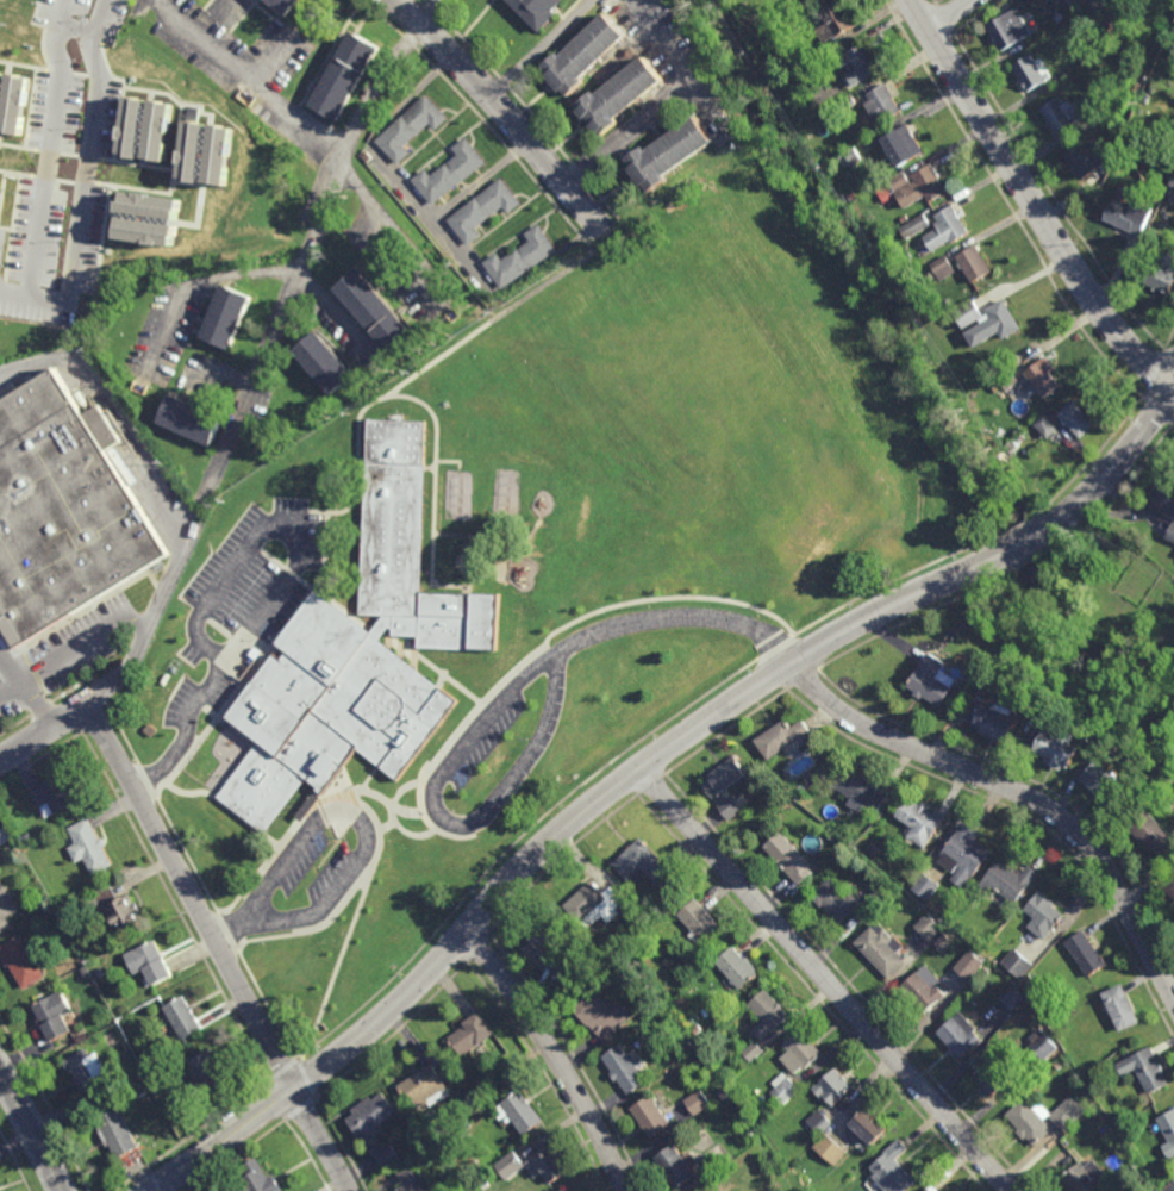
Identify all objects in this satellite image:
road: (936, 1)
road: (939, 1)
building: (1072, 1)
building: (285, 5)
road: (64, 10)
building: (535, 11)
road: (430, 12)
road: (918, 13)
road: (950, 13)
road: (976, 17)
building: (1113, 17)
road: (944, 19)
building: (833, 27)
building: (1011, 31)
road: (664, 40)
road: (936, 44)
building: (1112, 48)
road: (539, 49)
building: (582, 54)
road: (274, 57)
building: (861, 67)
building: (1032, 74)
building: (344, 76)
building: (1136, 86)
building: (618, 95)
building: (851, 101)
building: (14, 102)
building: (883, 104)
building: (1091, 110)
road: (501, 112)
building: (1062, 116)
road: (643, 121)
road: (302, 125)
building: (136, 127)
building: (410, 127)
building: (162, 131)
road: (55, 137)
building: (195, 145)
building: (905, 145)
building: (667, 154)
building: (221, 155)
building: (853, 156)
building: (1122, 157)
building: (1086, 161)
building: (448, 173)
road: (87, 186)
building: (920, 188)
building: (1170, 188)
building: (883, 193)
road: (1051, 197)
road: (1007, 204)
road: (1032, 204)
building: (151, 205)
building: (481, 210)
building: (856, 210)
road: (375, 212)
building: (1130, 217)
building: (914, 226)
building: (948, 229)
building: (148, 231)
building: (519, 258)
building: (880, 260)
building: (974, 266)
building: (943, 268)
building: (1162, 275)
road: (202, 283)
building: (373, 312)
building: (226, 319)
building: (988, 322)
road: (277, 324)
road: (1169, 338)
road: (1169, 356)
building: (323, 364)
road: (431, 366)
road: (1154, 373)
building: (1043, 378)
building: (1008, 379)
road: (1157, 411)
building: (1078, 418)
road: (1173, 420)
building: (189, 423)
road: (1173, 424)
building: (1045, 428)
road: (1088, 461)
road: (1117, 466)
road: (436, 490)
road: (175, 497)
road: (192, 499)
building: (1164, 499)
building: (64, 516)
road: (1019, 529)
building: (1170, 535)
road: (1028, 543)
road: (220, 576)
road: (82, 644)
building: (350, 644)
building: (221, 649)
road: (229, 656)
building: (974, 673)
building: (931, 681)
road: (10, 690)
road: (25, 693)
building: (173, 697)
road: (491, 713)
building: (997, 723)
road: (44, 737)
building: (783, 738)
building: (1061, 749)
road: (622, 754)
road: (623, 779)
building: (725, 779)
building: (1104, 782)
building: (801, 788)
building: (862, 792)
road: (1019, 792)
building: (58, 794)
building: (1173, 798)
road: (354, 813)
building: (920, 822)
building: (1156, 834)
building: (836, 837)
building: (26, 838)
building: (88, 847)
building: (872, 848)
building: (967, 854)
building: (791, 859)
building: (643, 865)
building: (1172, 875)
building: (1008, 883)
building: (922, 885)
building: (1170, 890)
road: (192, 898)
building: (873, 898)
building: (836, 902)
building: (586, 903)
building: (6, 909)
building: (123, 913)
building: (1043, 916)
building: (700, 922)
building: (951, 924)
building: (925, 925)
building: (938, 939)
building: (547, 941)
building: (880, 950)
building: (1086, 954)
building: (670, 960)
building: (21, 961)
building: (149, 962)
building: (968, 964)
building: (1016, 964)
building: (739, 969)
building: (85, 972)
building: (99, 973)
road: (824, 979)
building: (1026, 979)
building: (923, 990)
building: (1010, 997)
building: (1122, 1009)
building: (769, 1015)
building: (55, 1016)
building: (182, 1017)
building: (601, 1017)
building: (1068, 1028)
building: (695, 1030)
building: (470, 1035)
building: (961, 1036)
building: (686, 1043)
building: (1042, 1046)
building: (751, 1052)
building: (798, 1053)
road: (554, 1055)
building: (1056, 1065)
road: (282, 1070)
building: (627, 1070)
building: (1145, 1071)
building: (88, 1072)
building: (206, 1072)
building: (995, 1074)
building: (152, 1078)
road: (306, 1078)
building: (833, 1087)
building: (782, 1089)
building: (426, 1090)
building: (140, 1091)
building: (723, 1093)
building: (697, 1103)
road: (299, 1108)
building: (520, 1114)
building: (371, 1116)
building: (1116, 1116)
building: (652, 1118)
building: (816, 1123)
building: (1031, 1123)
building: (866, 1128)
building: (1168, 1129)
road: (32, 1130)
building: (1107, 1131)
building: (117, 1133)
road: (224, 1140)
road: (321, 1140)
building: (829, 1148)
building: (510, 1165)
building: (676, 1168)
building: (548, 1170)
building: (894, 1171)
building: (256, 1179)
building: (1084, 1179)
building: (413, 1180)
building: (483, 1184)
building: (1169, 1186)
building: (931, 1189)
building: (564, 1190)

